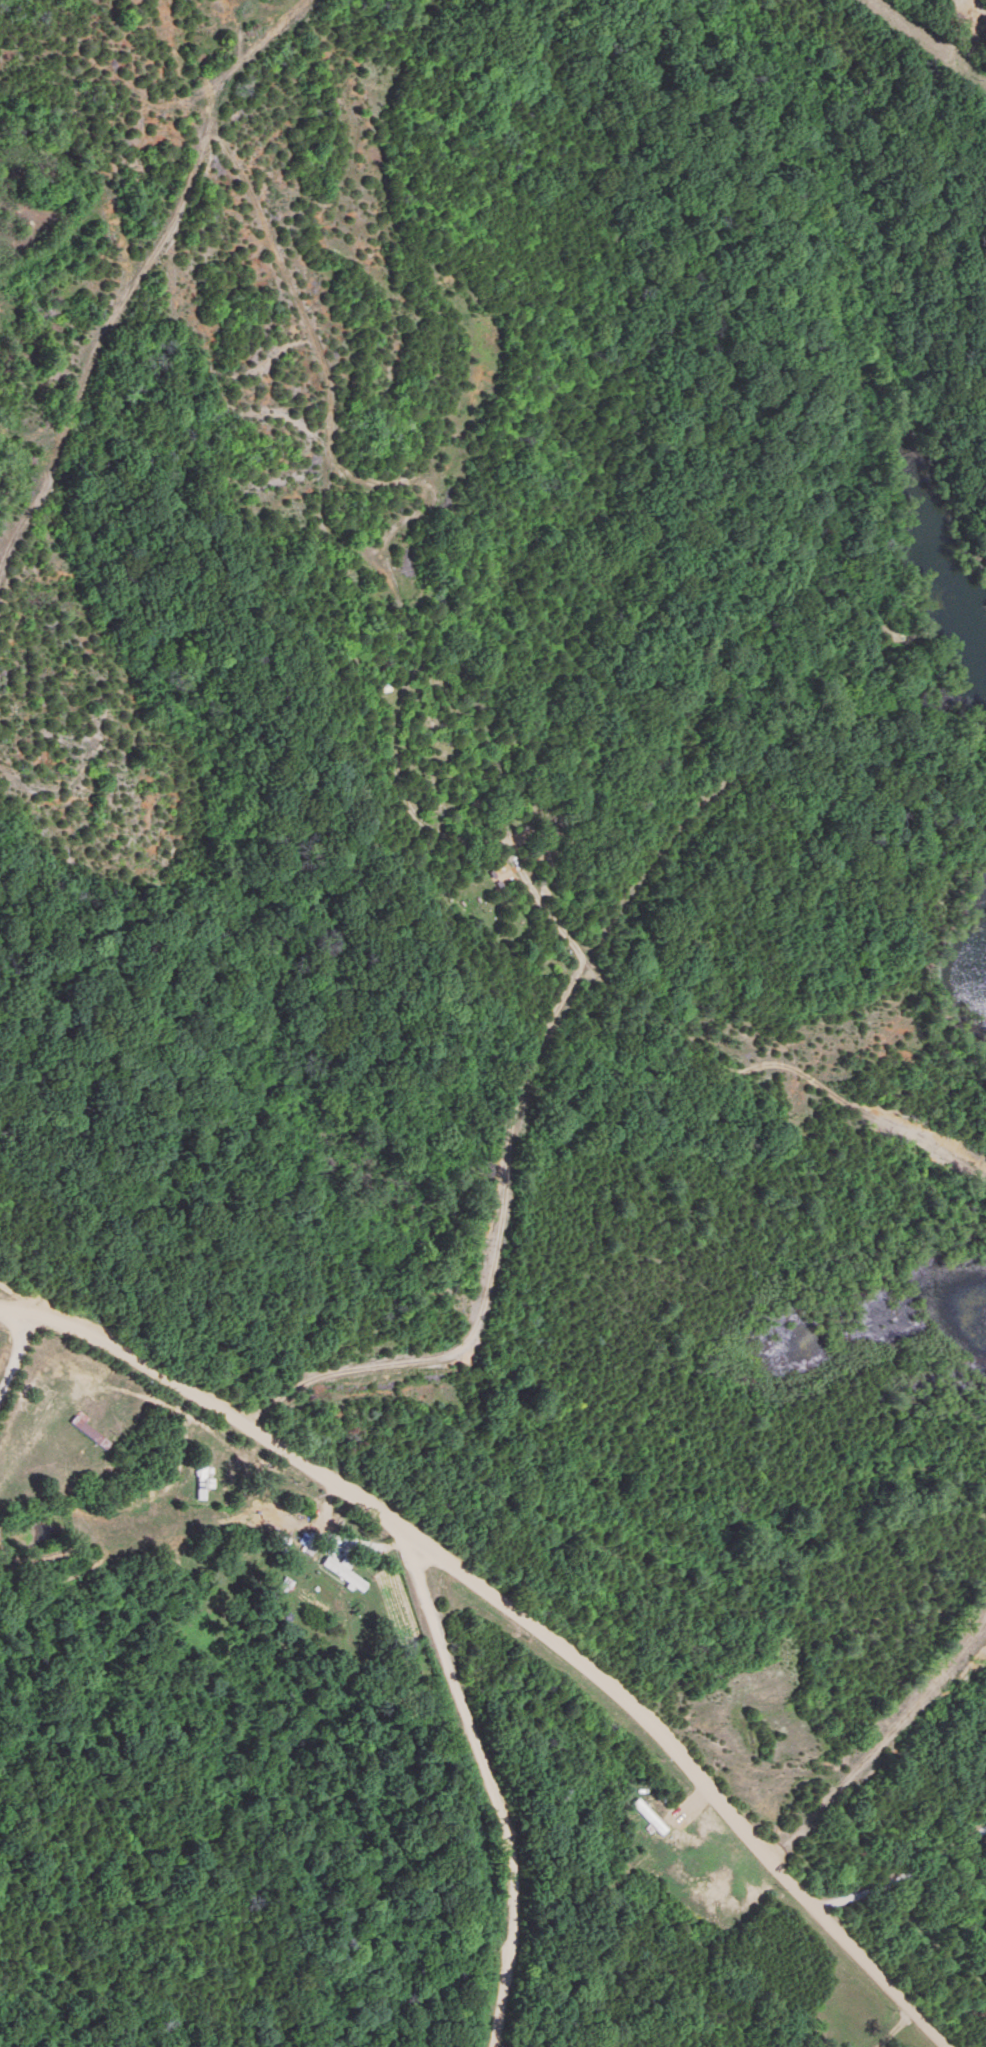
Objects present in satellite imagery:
road: (16, 1355)
building: (91, 1432)
building: (200, 1478)
road: (412, 1564)
building: (344, 1574)
road: (691, 1767)
road: (902, 1870)
road: (893, 2030)

